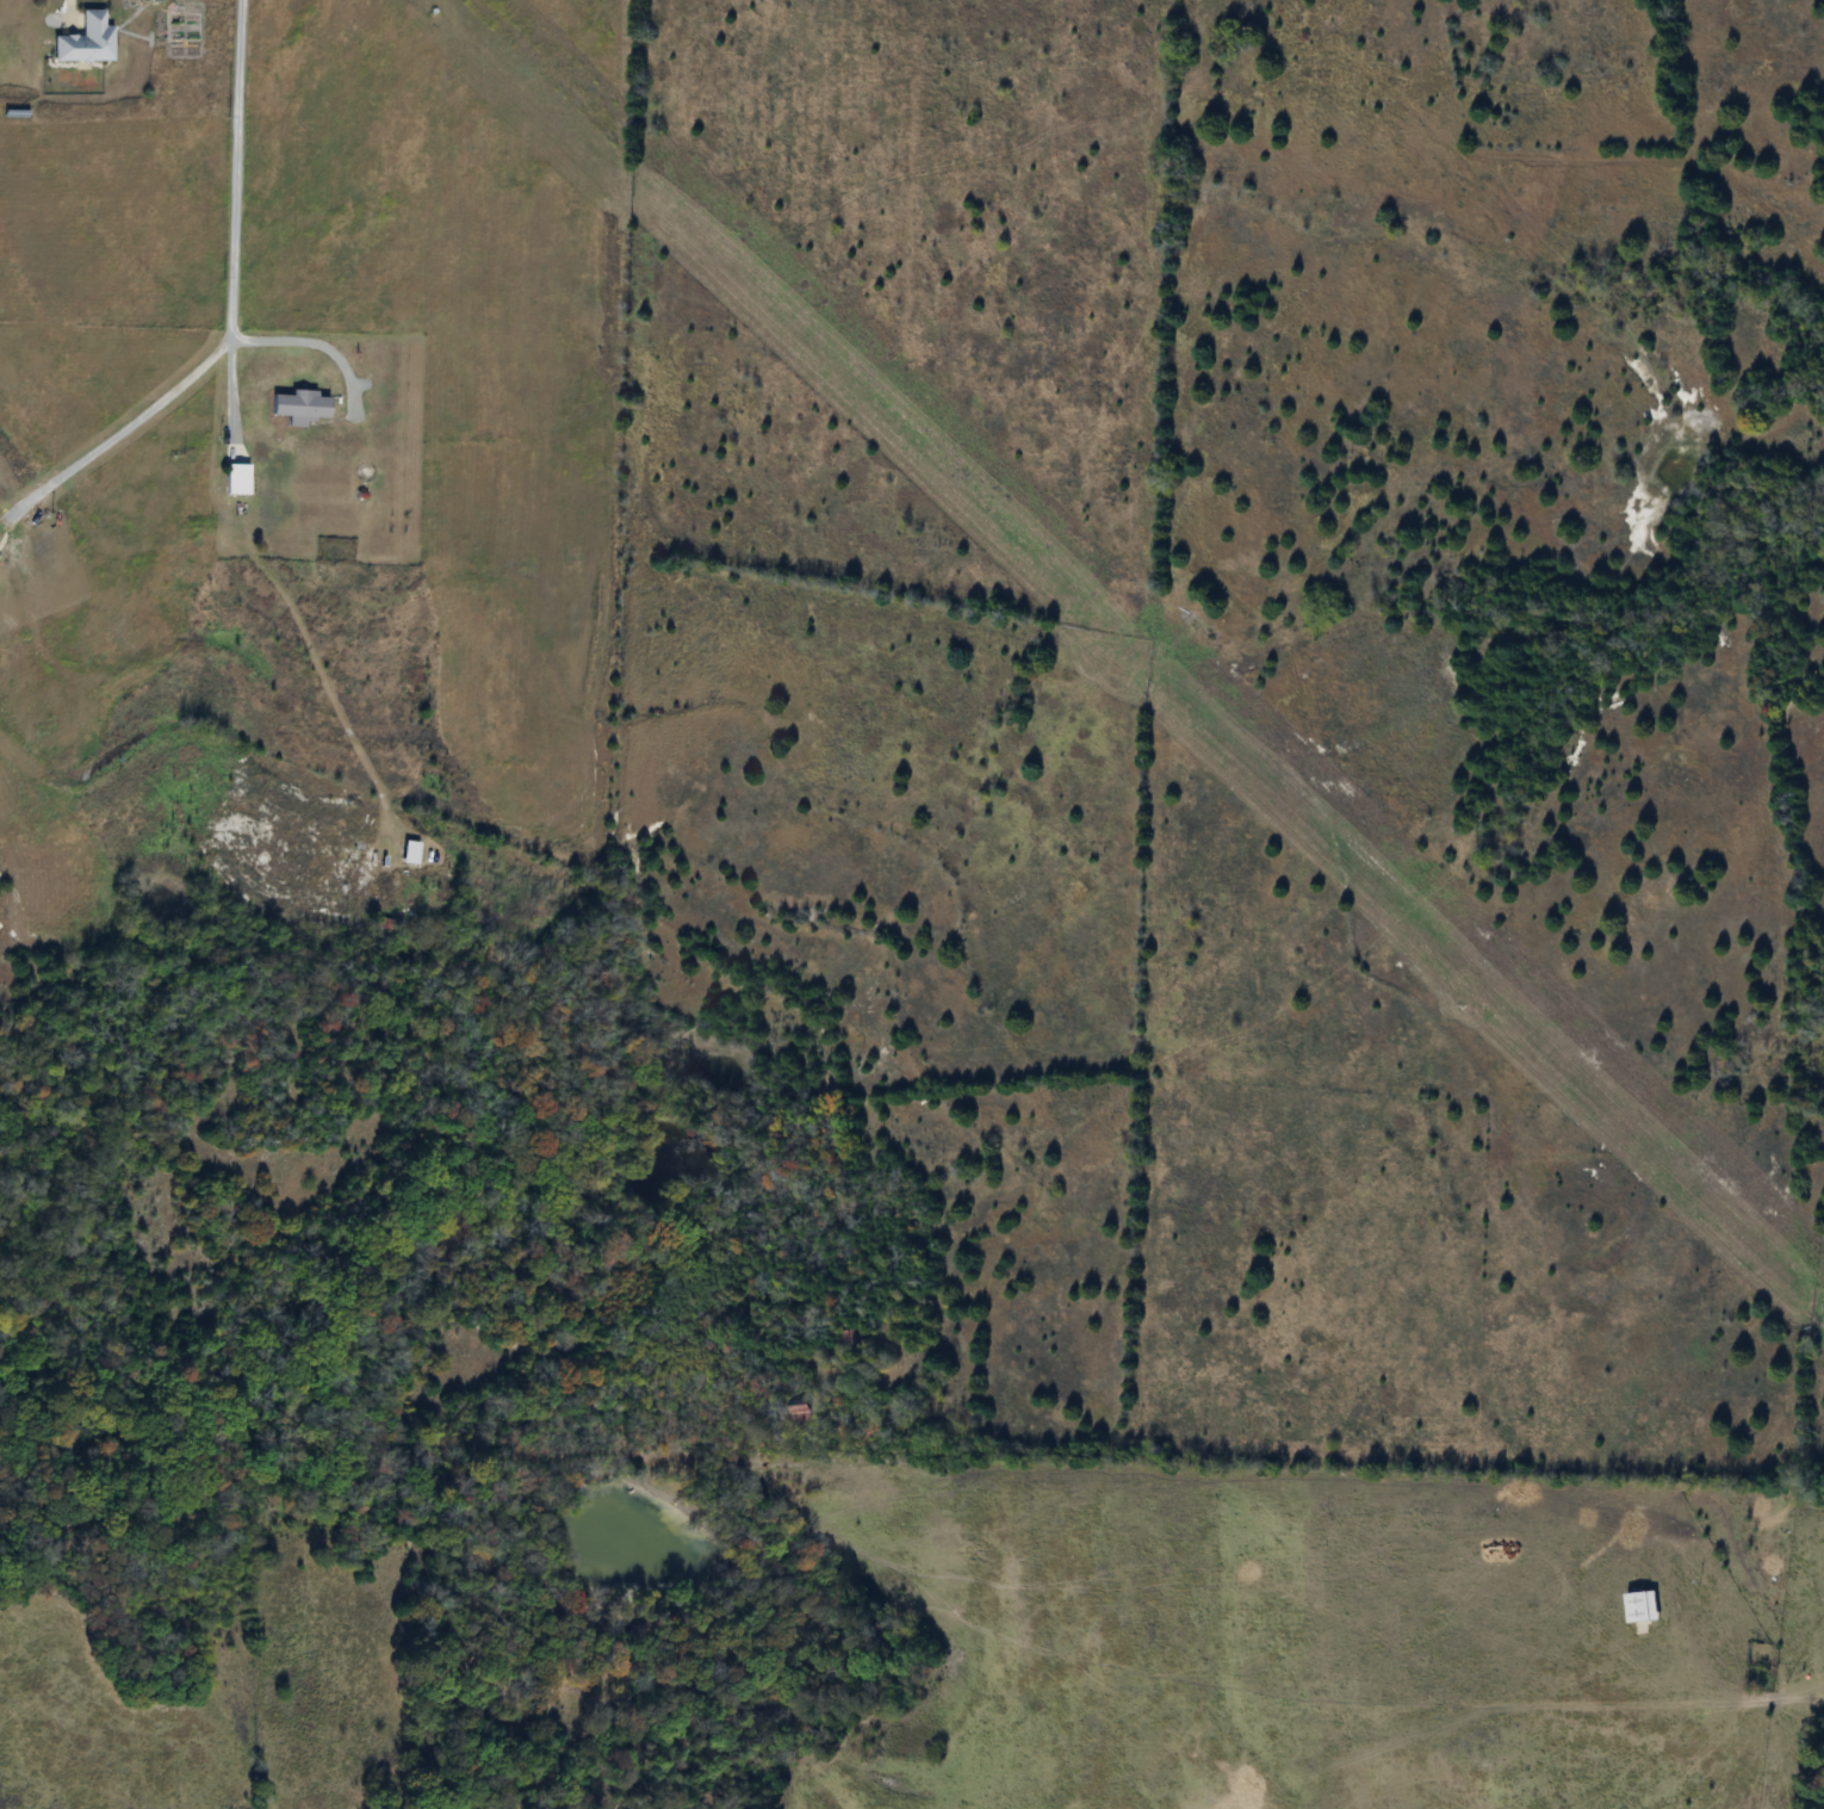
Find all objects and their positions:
road: (231, 314)
road: (315, 343)
building: (300, 409)
building: (237, 479)
building: (799, 1411)
building: (1643, 1609)
road: (1813, 1691)

